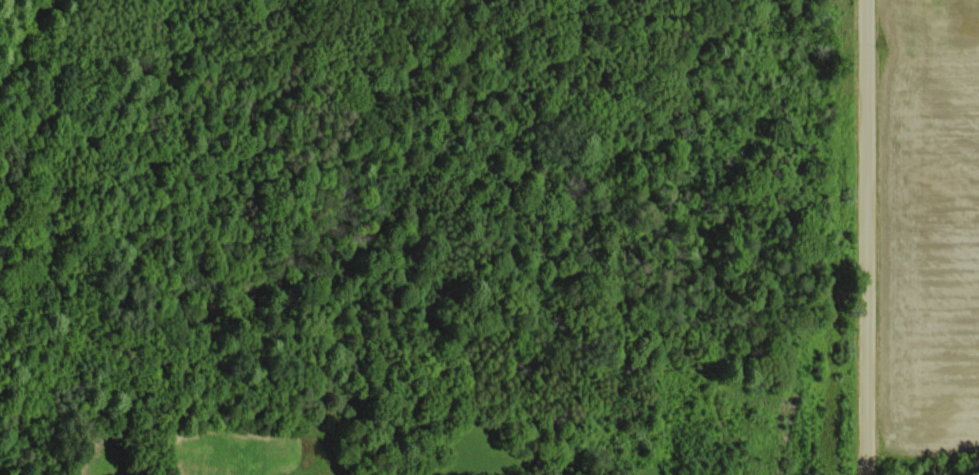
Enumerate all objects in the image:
crop: (929, 227)
road: (867, 237)

